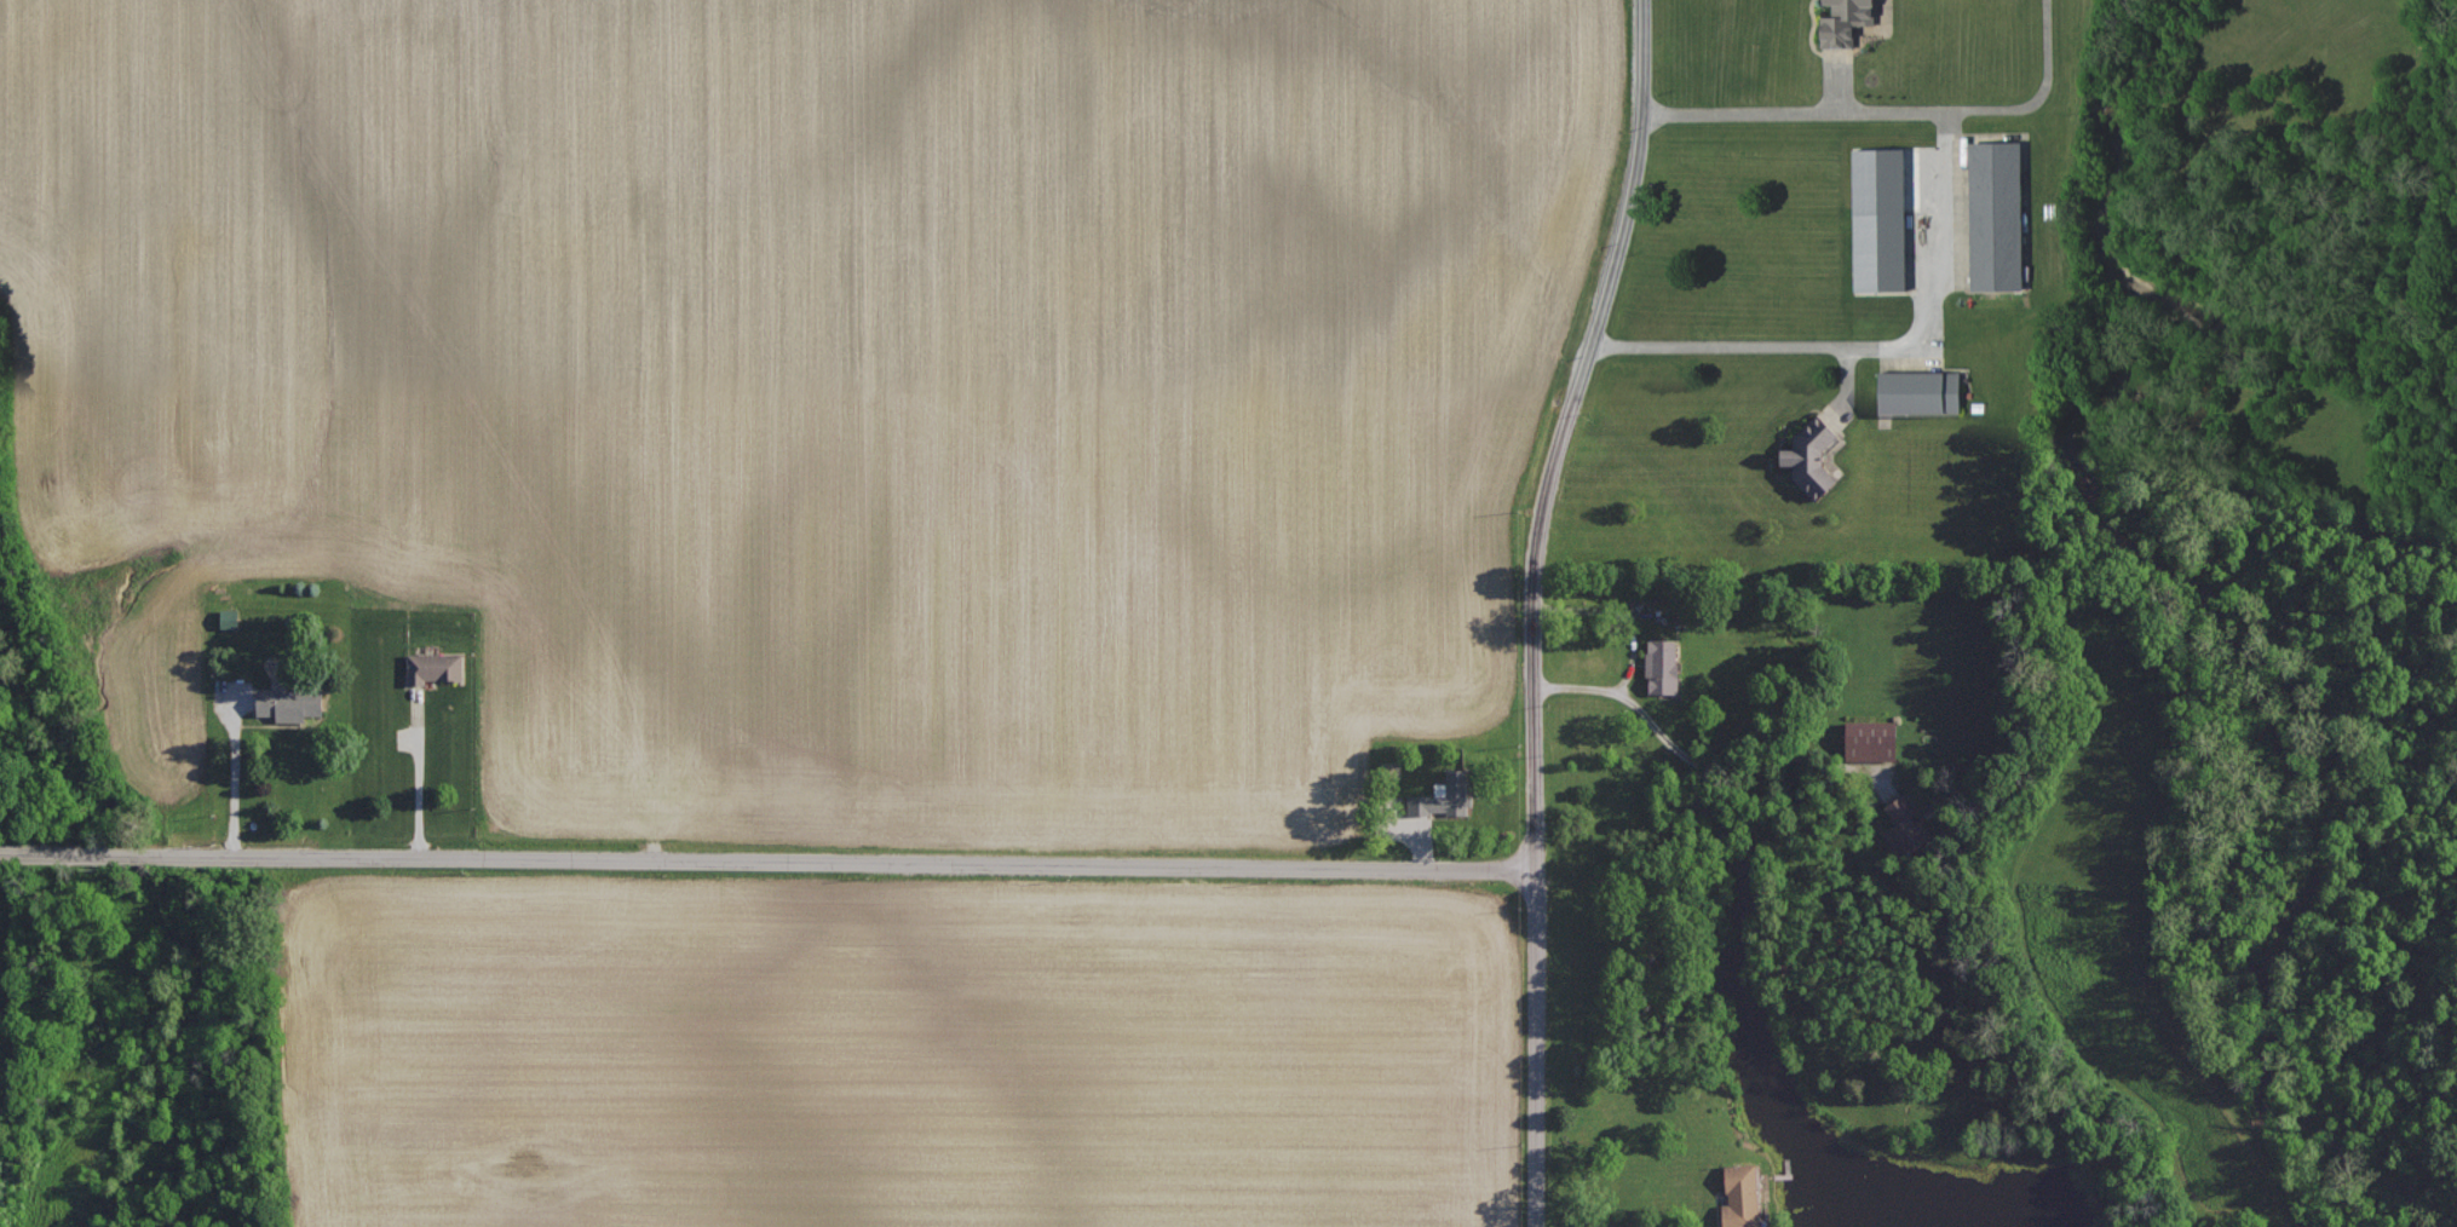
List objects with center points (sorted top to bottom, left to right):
building: (1845, 22)
building: (1995, 217)
road: (1939, 237)
building: (1878, 252)
building: (1918, 392)
building: (1811, 455)
road: (1535, 606)
building: (1662, 664)
building: (435, 666)
building: (290, 703)
building: (1871, 739)
road: (1692, 759)
road: (419, 776)
road: (240, 783)
building: (1444, 795)
building: (1905, 828)
road: (769, 859)
building: (1, 1114)
building: (1742, 1196)

